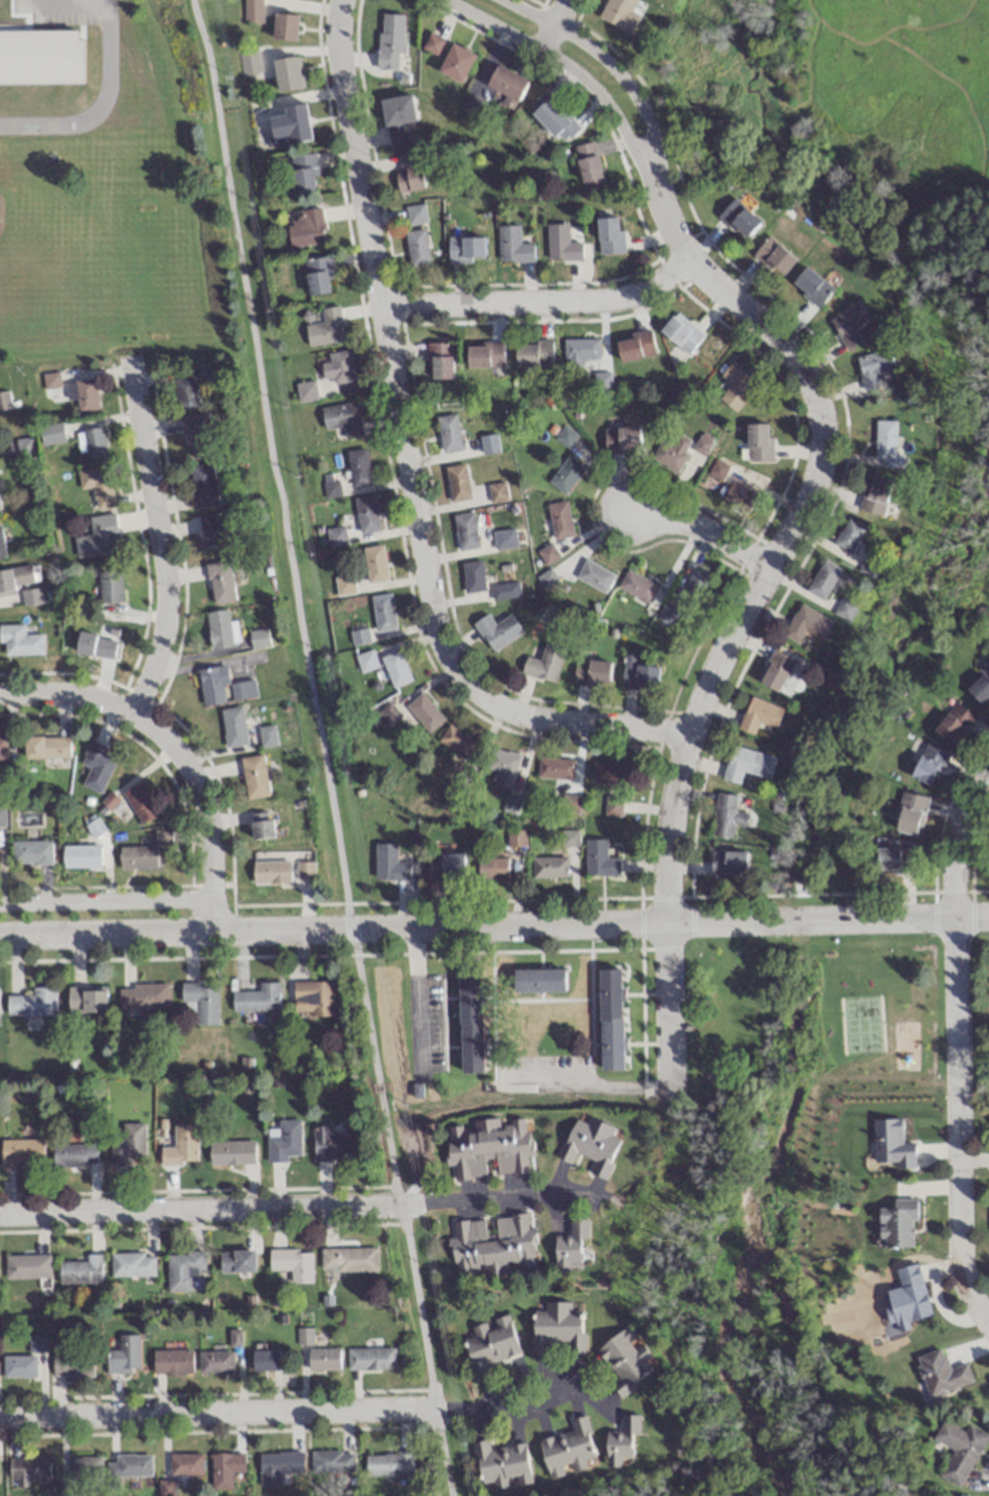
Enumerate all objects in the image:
road: (62, 8)
building: (251, 11)
building: (620, 13)
road: (552, 25)
building: (284, 27)
building: (390, 42)
building: (433, 44)
building: (248, 62)
road: (18, 63)
building: (456, 63)
road: (610, 64)
road: (567, 66)
building: (287, 74)
building: (507, 86)
building: (397, 118)
building: (553, 118)
building: (289, 125)
building: (588, 165)
building: (303, 172)
building: (409, 172)
building: (415, 214)
building: (740, 219)
building: (305, 227)
building: (609, 235)
building: (561, 244)
building: (512, 246)
building: (417, 248)
building: (466, 249)
building: (777, 255)
building: (318, 276)
building: (812, 288)
road: (539, 301)
building: (849, 325)
building: (325, 328)
building: (681, 334)
building: (634, 347)
building: (578, 354)
building: (533, 355)
building: (484, 356)
building: (440, 361)
building: (338, 367)
building: (874, 367)
building: (50, 381)
building: (601, 383)
building: (736, 388)
building: (306, 392)
building: (184, 393)
building: (82, 394)
building: (4, 402)
building: (342, 419)
building: (448, 433)
building: (51, 435)
building: (197, 435)
building: (564, 437)
building: (622, 440)
building: (758, 443)
building: (90, 444)
building: (887, 444)
building: (488, 445)
building: (702, 445)
building: (24, 448)
building: (671, 453)
road: (409, 459)
building: (358, 467)
building: (718, 469)
building: (565, 476)
building: (457, 483)
building: (203, 485)
building: (97, 486)
building: (331, 489)
building: (497, 493)
building: (876, 495)
building: (740, 497)
building: (366, 515)
building: (559, 520)
road: (700, 527)
building: (210, 531)
building: (465, 532)
building: (849, 536)
building: (98, 537)
building: (335, 537)
building: (502, 541)
road: (163, 545)
building: (1, 547)
building: (547, 555)
building: (375, 564)
building: (594, 576)
building: (473, 577)
building: (16, 579)
building: (546, 580)
building: (824, 580)
building: (220, 582)
building: (109, 584)
building: (695, 587)
building: (637, 588)
building: (505, 592)
building: (31, 598)
road: (750, 599)
building: (846, 609)
building: (382, 612)
building: (667, 615)
building: (807, 624)
building: (219, 629)
building: (497, 632)
building: (258, 638)
building: (20, 641)
building: (95, 646)
building: (366, 660)
building: (544, 665)
building: (395, 668)
building: (777, 671)
building: (592, 673)
building: (640, 677)
building: (981, 683)
building: (213, 685)
building: (243, 689)
building: (424, 711)
building: (388, 714)
building: (760, 714)
building: (954, 722)
building: (233, 725)
building: (267, 735)
building: (458, 741)
park: (835, 741)
building: (46, 747)
road: (176, 747)
road: (322, 747)
building: (2, 748)
building: (748, 763)
building: (929, 763)
building: (95, 765)
building: (503, 766)
building: (555, 768)
building: (610, 773)
building: (254, 776)
building: (140, 801)
building: (612, 806)
building: (911, 812)
building: (2, 815)
building: (726, 815)
building: (262, 825)
building: (515, 838)
building: (568, 838)
road: (961, 838)
building: (30, 852)
building: (80, 856)
building: (599, 859)
building: (896, 859)
building: (729, 862)
building: (391, 863)
building: (446, 864)
building: (549, 867)
building: (492, 868)
building: (305, 870)
building: (272, 871)
road: (107, 900)
road: (494, 924)
building: (539, 981)
building: (86, 998)
building: (142, 998)
building: (312, 998)
building: (257, 999)
building: (33, 1002)
building: (201, 1002)
building: (862, 1011)
building: (611, 1019)
building: (470, 1022)
road: (588, 1084)
road: (957, 1121)
building: (283, 1141)
building: (891, 1143)
building: (128, 1144)
building: (327, 1145)
building: (591, 1145)
building: (181, 1146)
building: (489, 1147)
building: (20, 1151)
building: (231, 1152)
building: (74, 1154)
road: (507, 1199)
road: (210, 1208)
building: (898, 1224)
building: (491, 1245)
building: (573, 1246)
building: (348, 1259)
building: (236, 1261)
building: (292, 1263)
building: (133, 1264)
building: (26, 1265)
building: (183, 1269)
building: (81, 1270)
building: (908, 1295)
building: (557, 1328)
building: (491, 1341)
building: (36, 1342)
building: (124, 1355)
building: (323, 1358)
building: (370, 1358)
building: (265, 1360)
building: (172, 1361)
building: (215, 1361)
building: (625, 1361)
building: (72, 1362)
building: (18, 1365)
building: (941, 1373)
road: (506, 1408)
road: (217, 1413)
building: (623, 1443)
building: (569, 1449)
building: (960, 1450)
building: (332, 1461)
building: (389, 1463)
building: (186, 1464)
building: (503, 1465)
building: (279, 1467)
building: (127, 1468)
building: (29, 1469)
building: (225, 1469)
building: (83, 1475)
building: (166, 1488)

